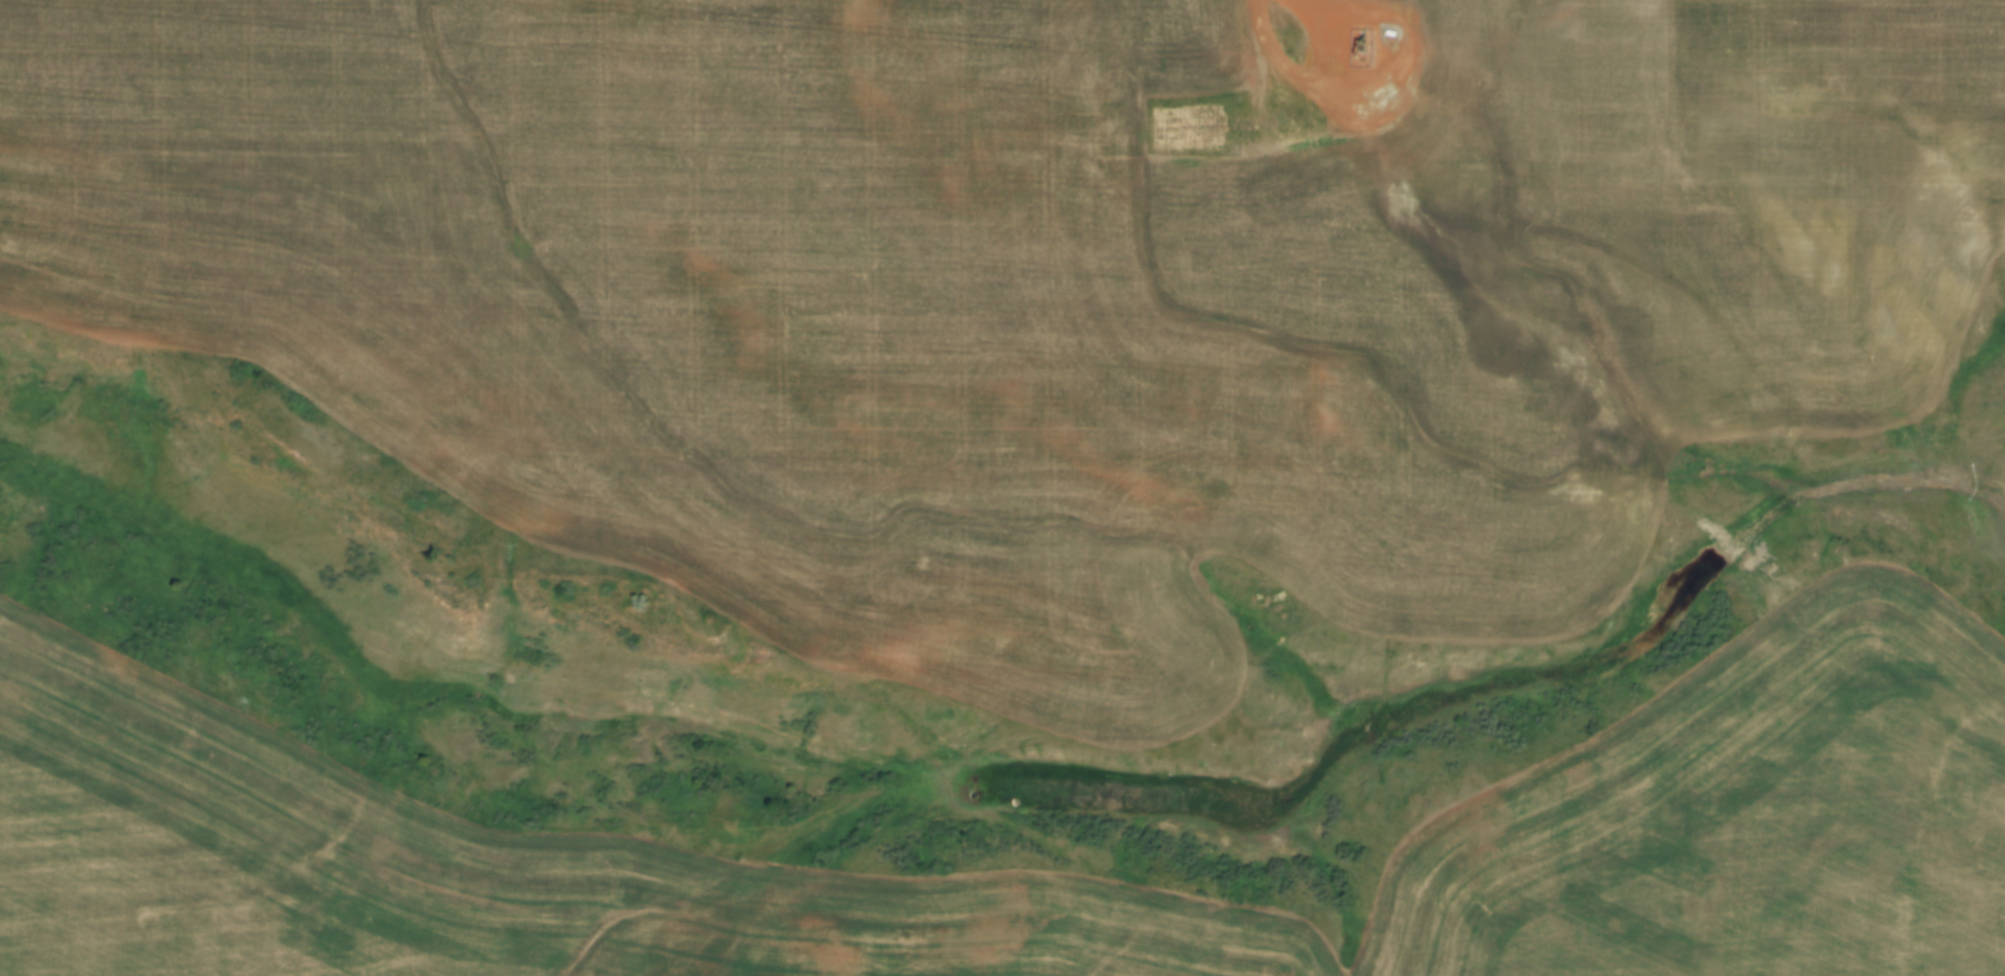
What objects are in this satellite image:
road: (1274, 51)

